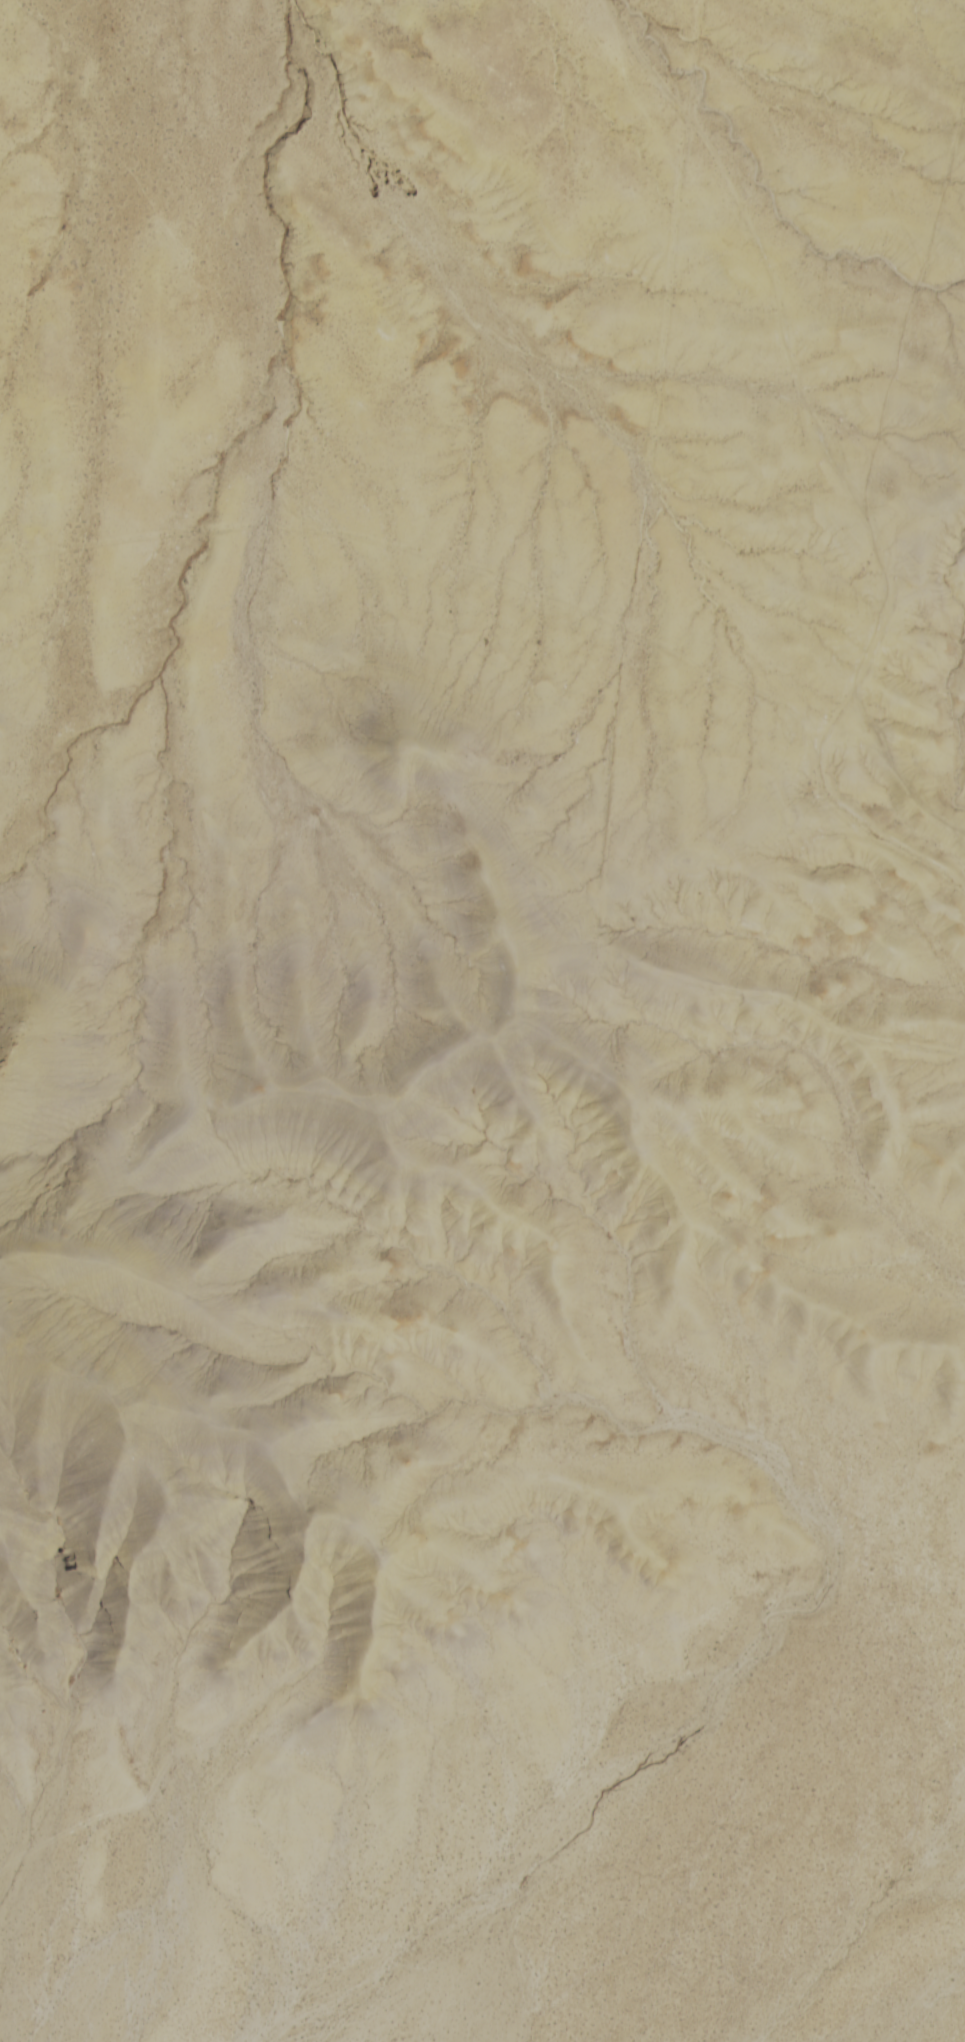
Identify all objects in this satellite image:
road: (861, 455)

